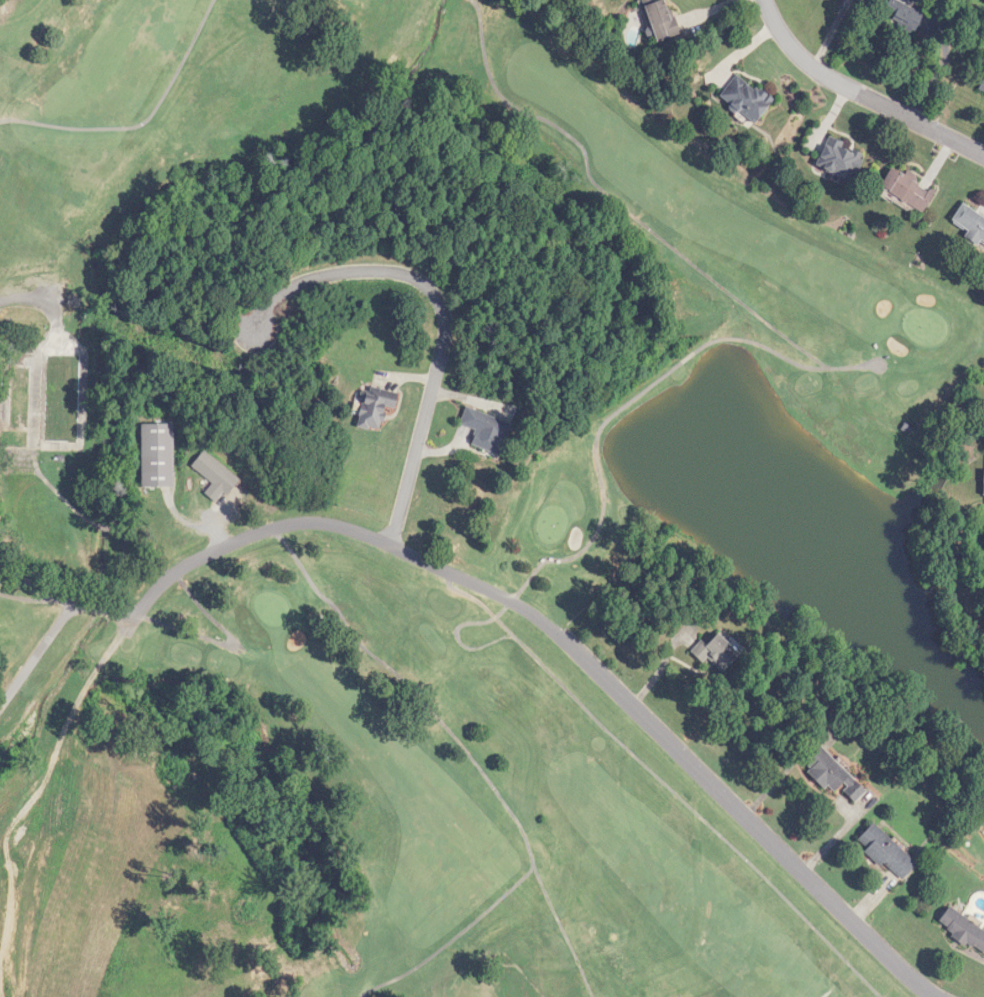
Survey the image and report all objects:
building: (904, 15)
building: (664, 20)
road: (830, 33)
building: (982, 89)
road: (860, 94)
building: (749, 99)
building: (842, 158)
building: (910, 188)
building: (971, 222)
road: (443, 309)
building: (378, 406)
building: (489, 430)
building: (158, 455)
building: (216, 476)
road: (510, 600)
building: (718, 653)
road: (37, 656)
building: (834, 774)
building: (888, 852)
building: (964, 929)

